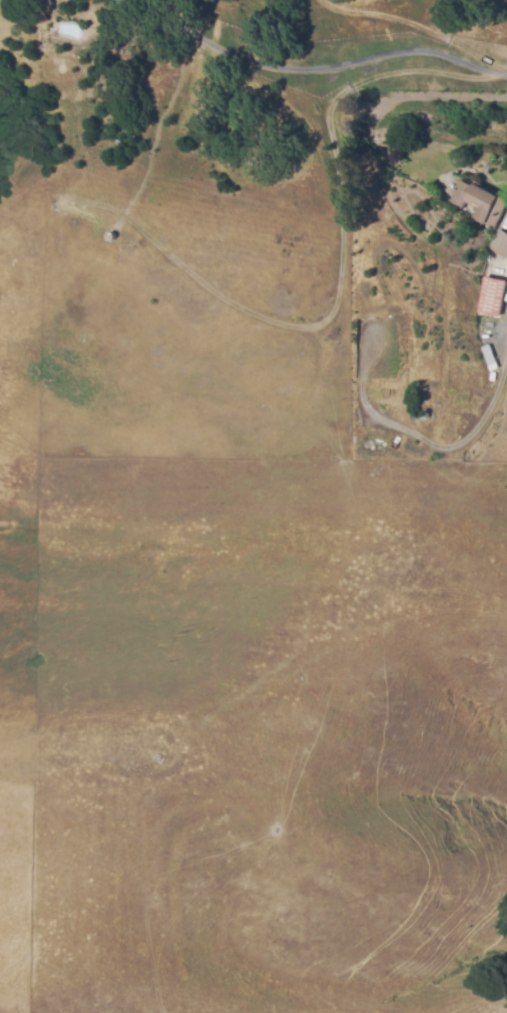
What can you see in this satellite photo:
road: (308, 69)
building: (480, 202)
building: (111, 236)
building: (499, 243)
building: (492, 296)
building: (488, 336)
building: (489, 358)

